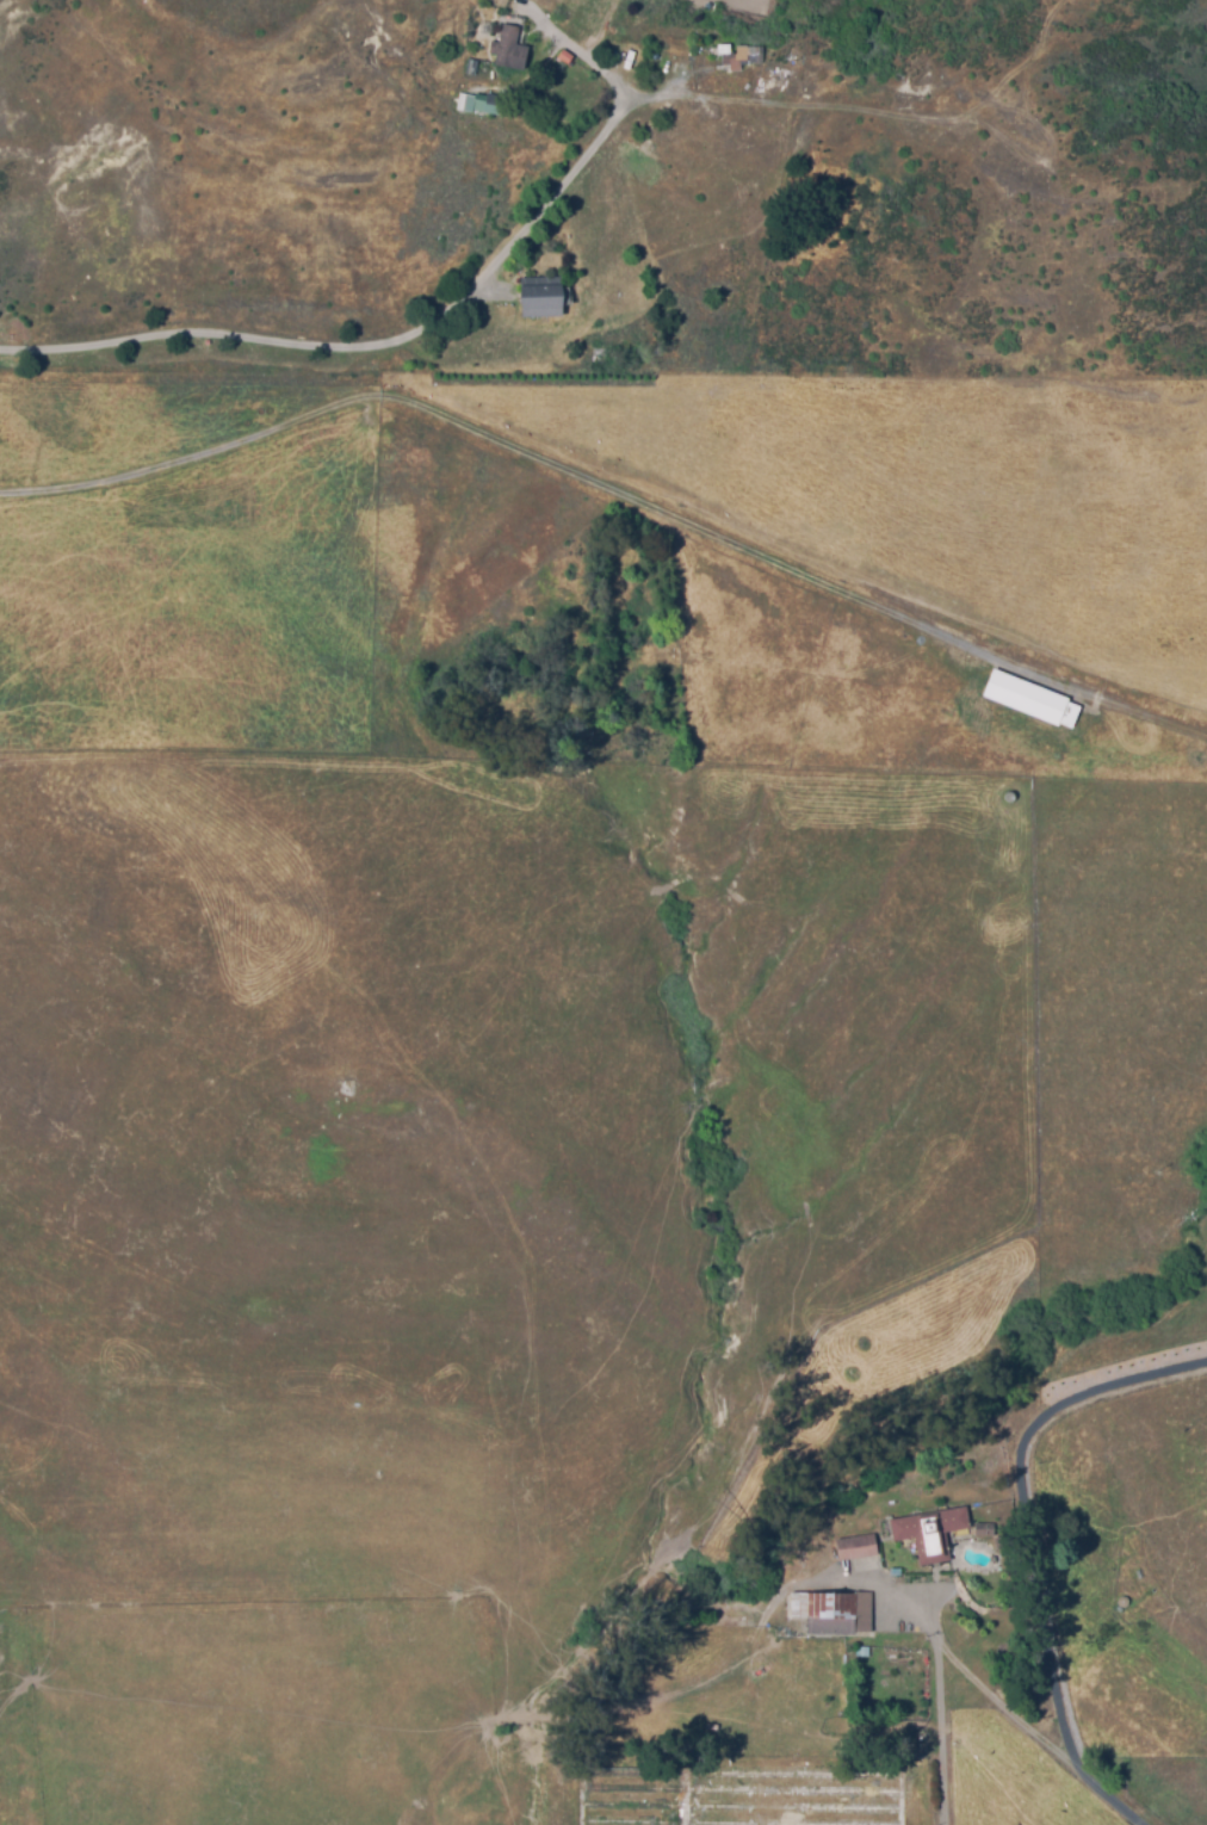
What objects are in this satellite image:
building: (514, 49)
building: (738, 57)
road: (594, 60)
building: (489, 104)
building: (541, 297)
building: (581, 298)
road: (394, 342)
building: (1032, 698)
building: (936, 1534)
road: (1035, 1547)
building: (861, 1549)
building: (837, 1614)
road: (934, 1701)
road: (996, 1706)
building: (800, 1775)
building: (799, 1792)
building: (903, 1794)
building: (688, 1798)
building: (798, 1808)
building: (792, 1823)

